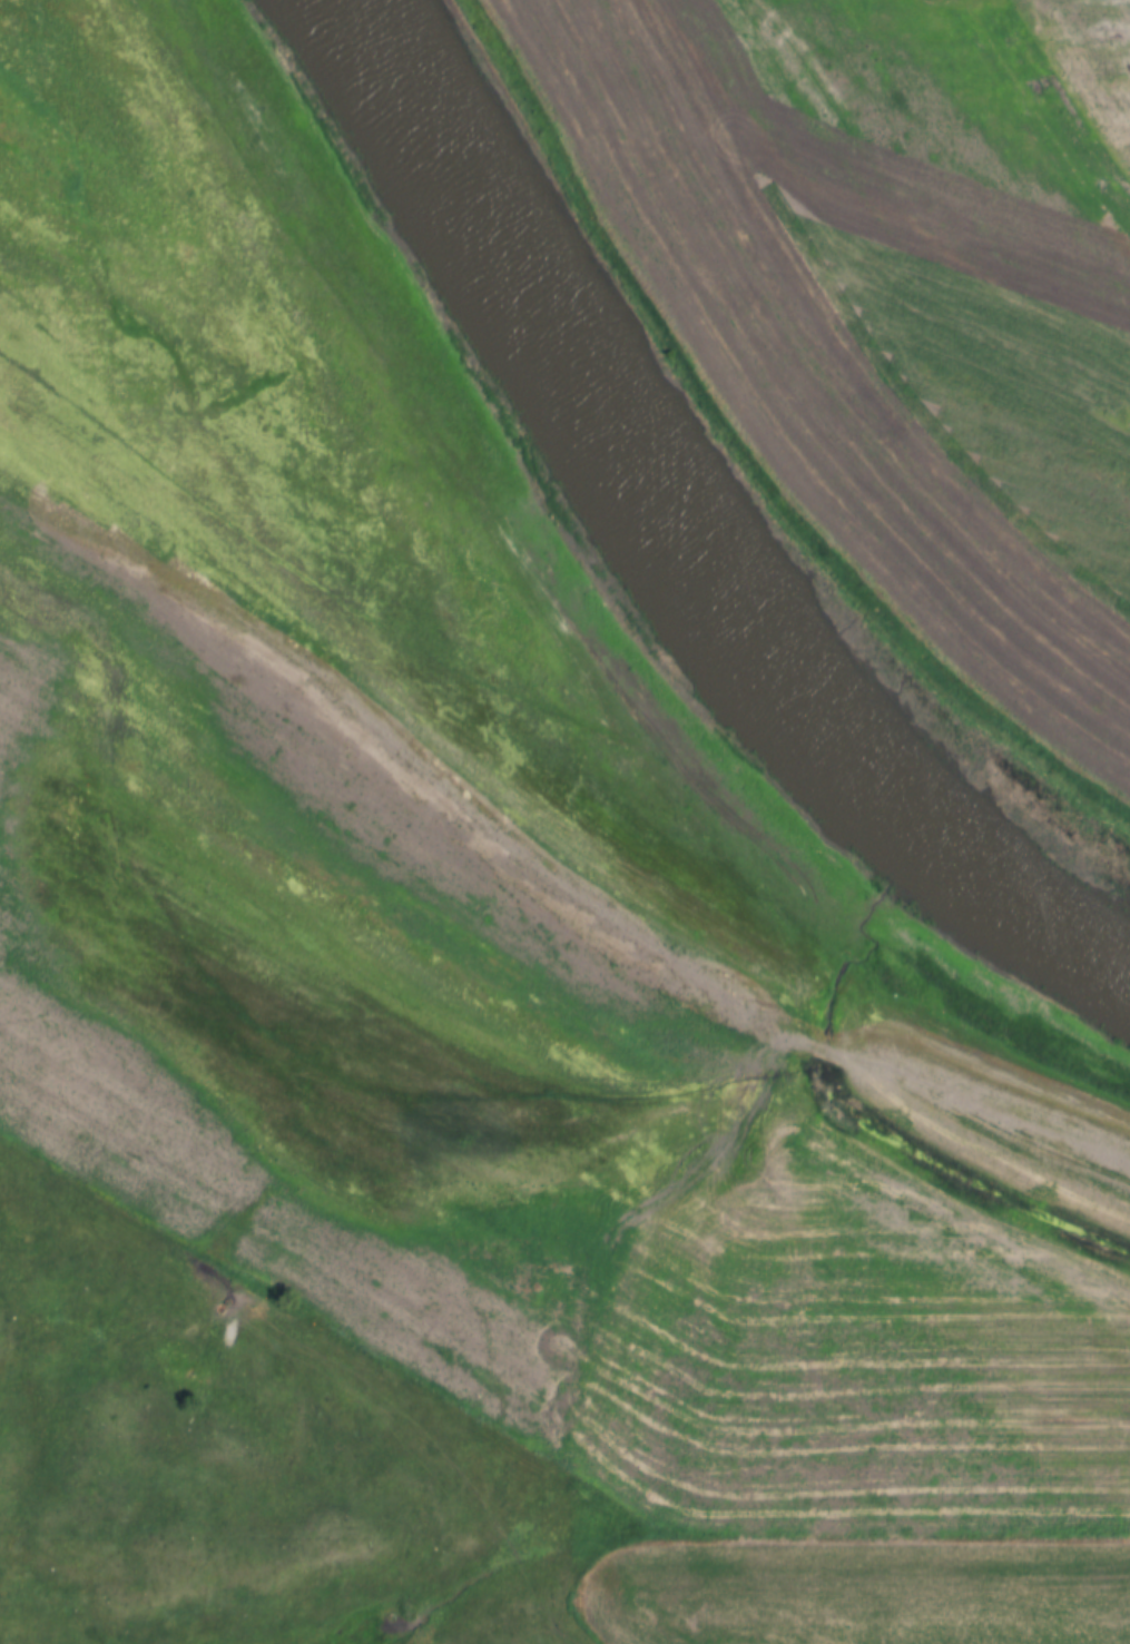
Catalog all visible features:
river: (684, 534)
road: (510, 698)

